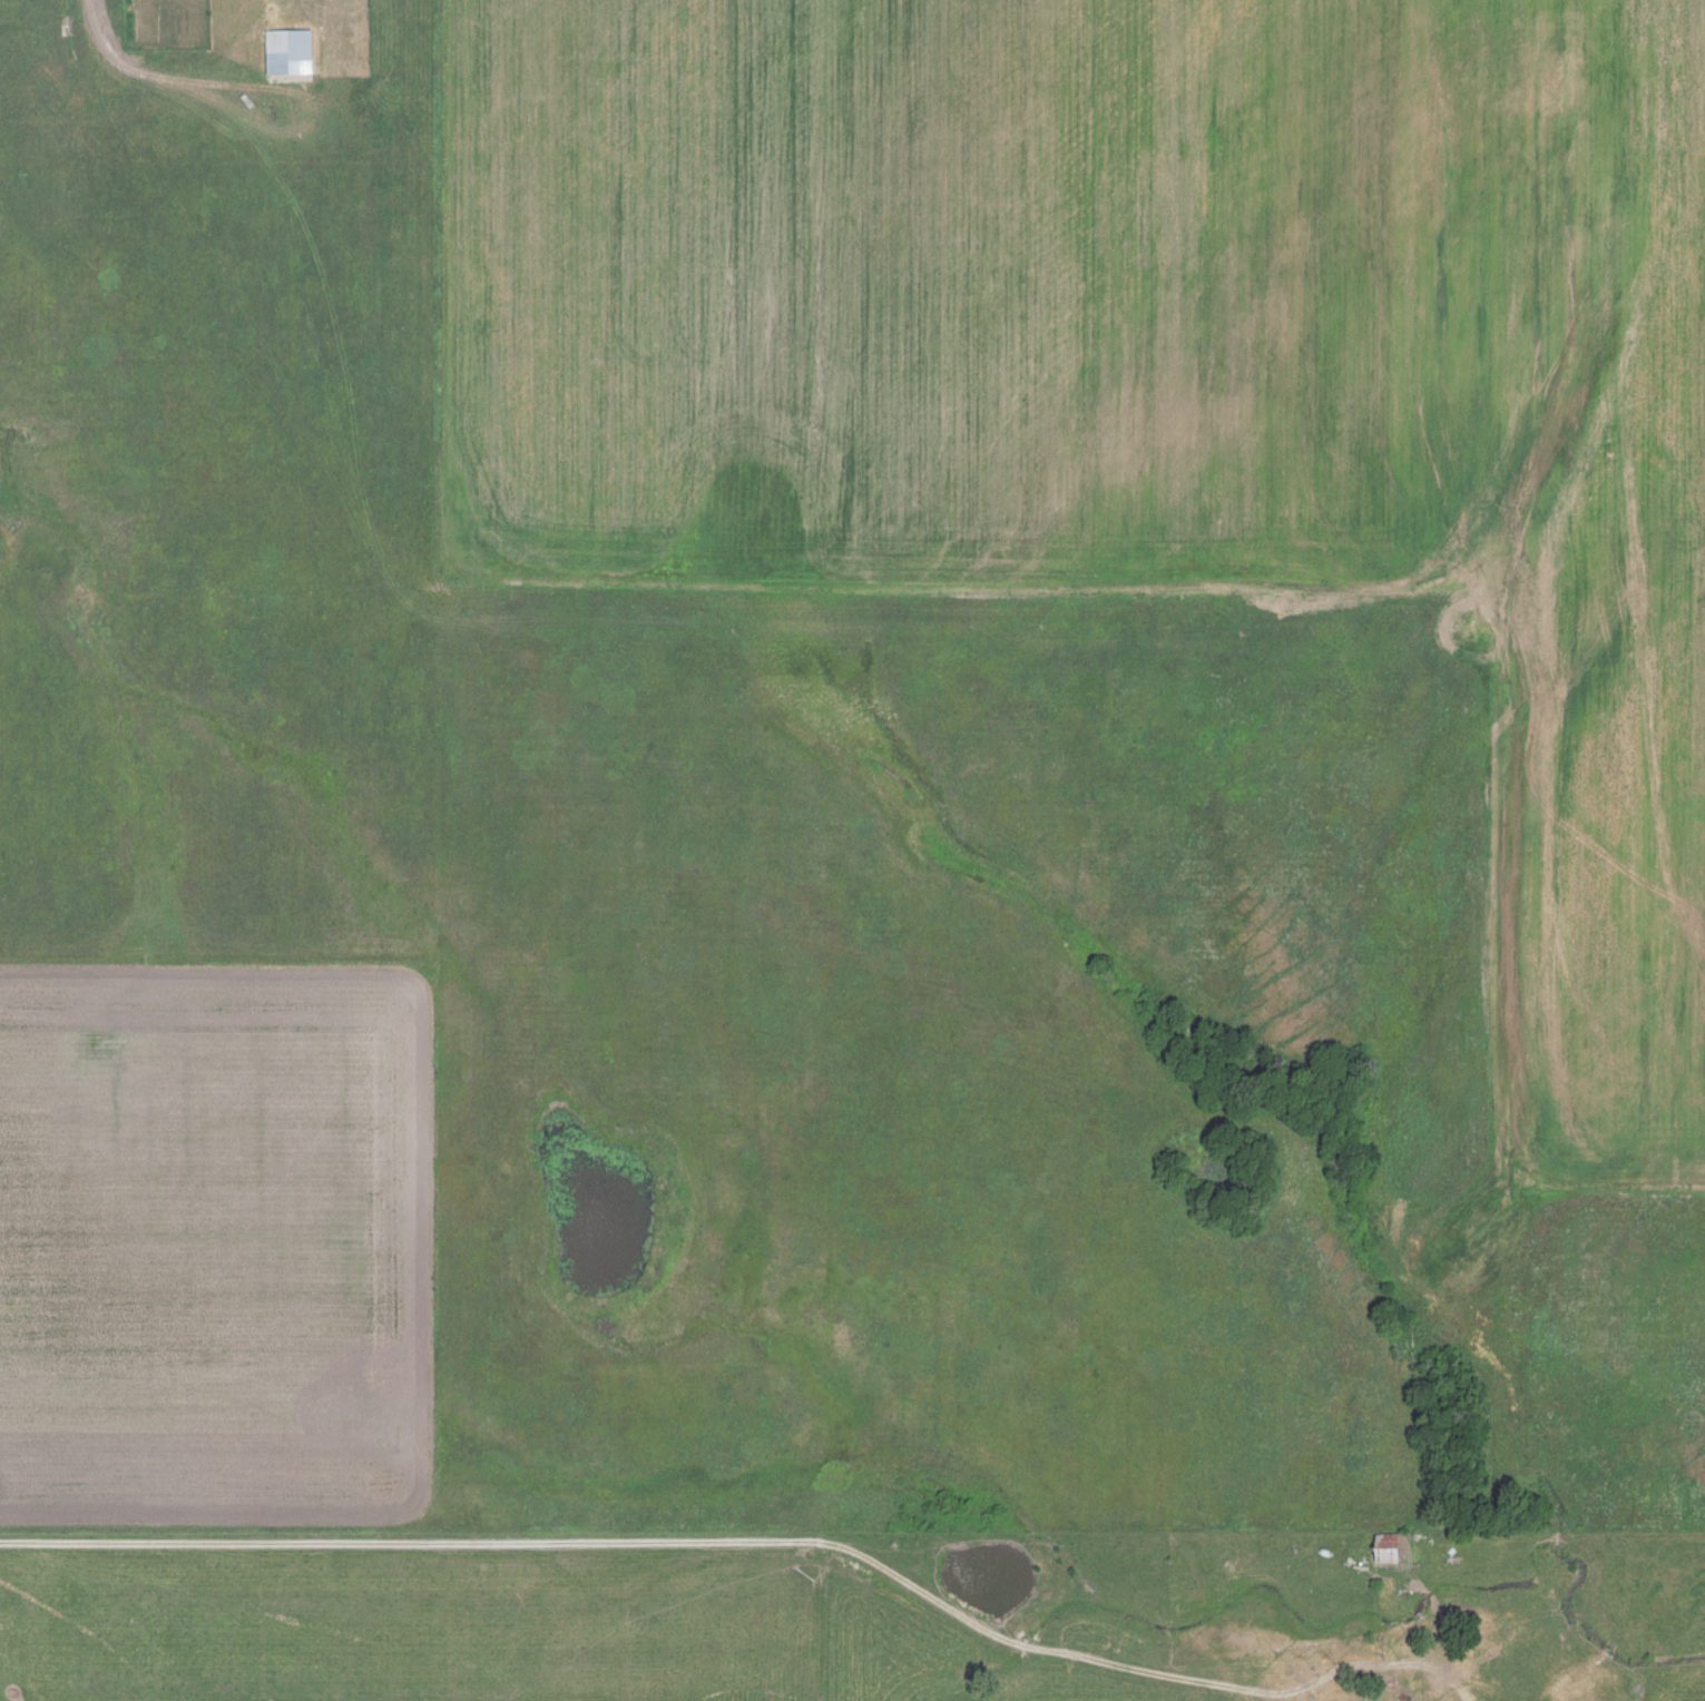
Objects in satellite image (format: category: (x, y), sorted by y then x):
road: (686, 1548)
building: (1384, 1548)
building: (1399, 1694)

